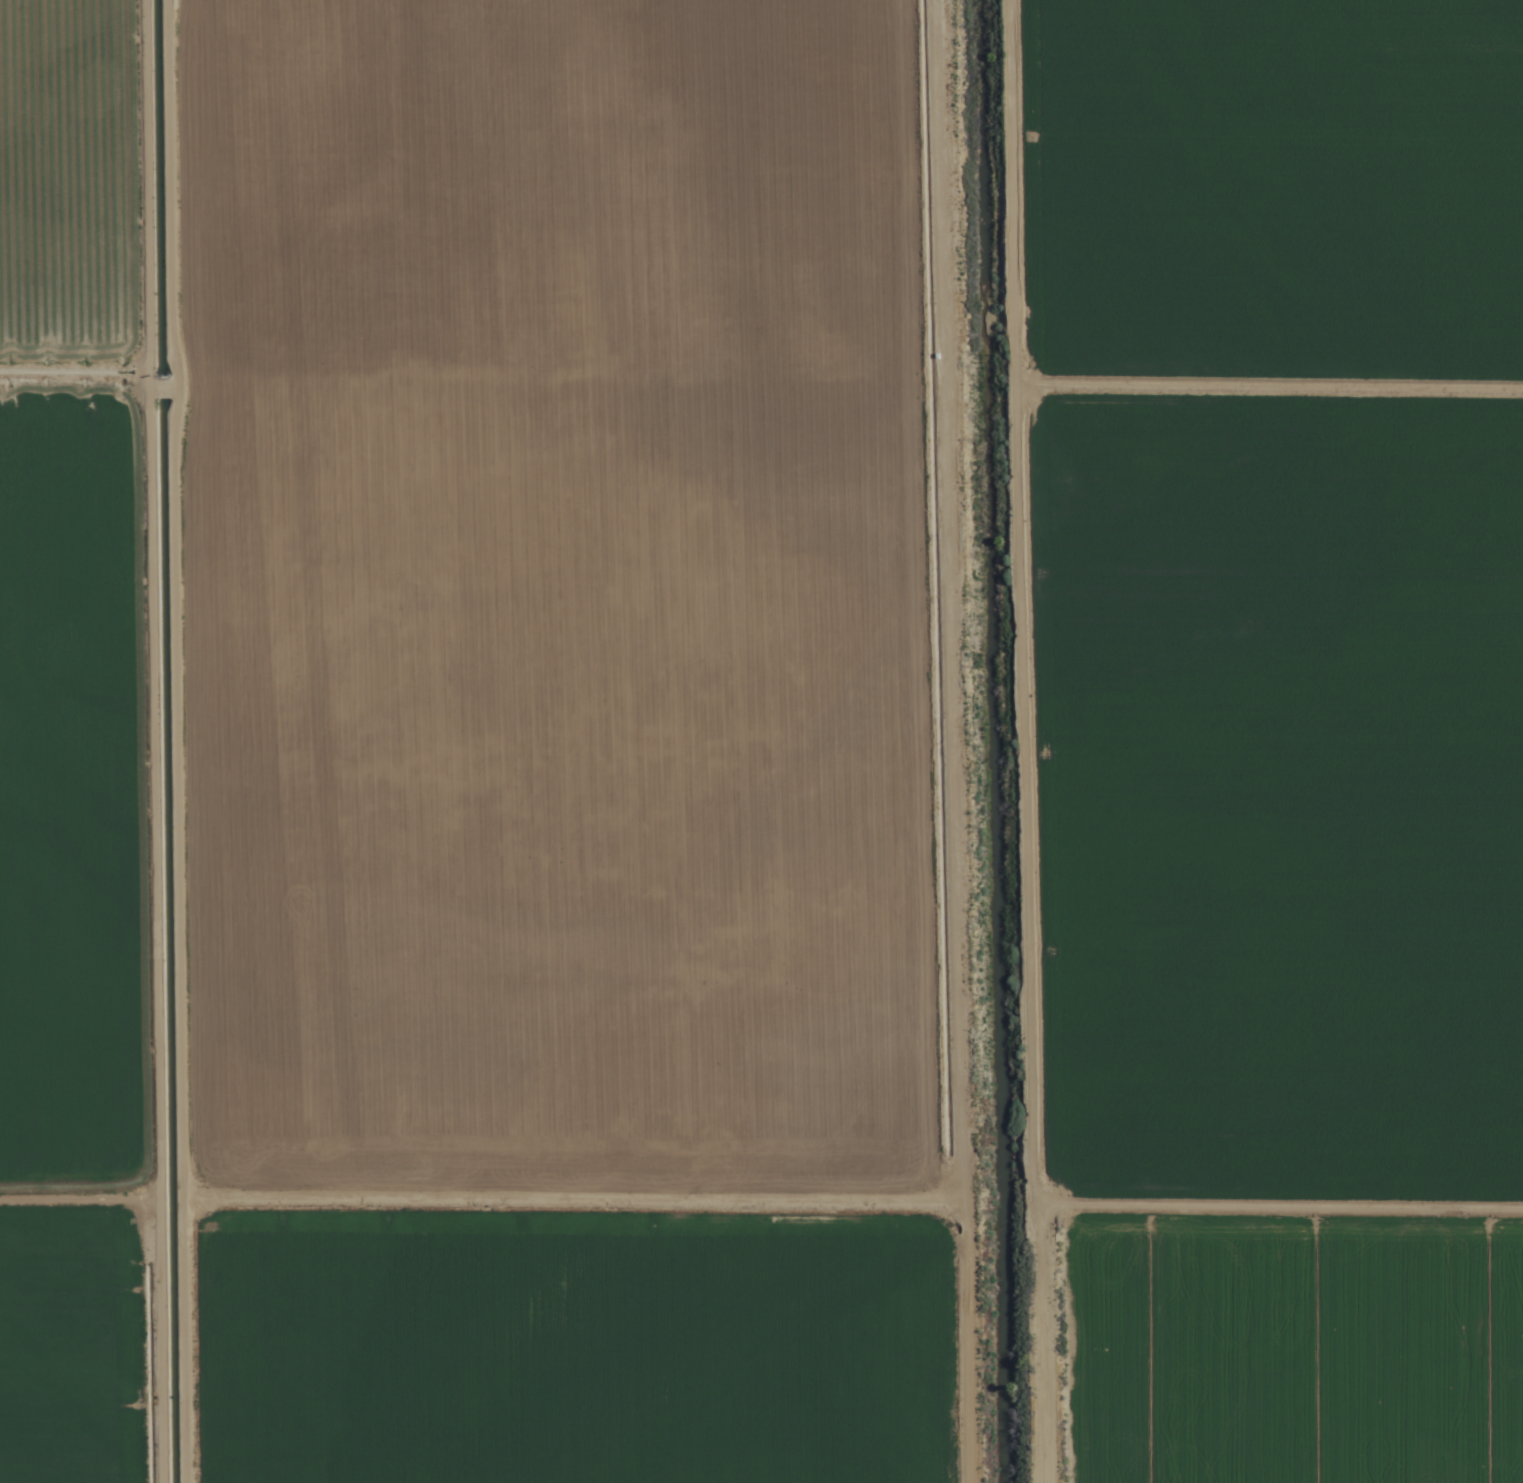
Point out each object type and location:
crop: (761, 741)

